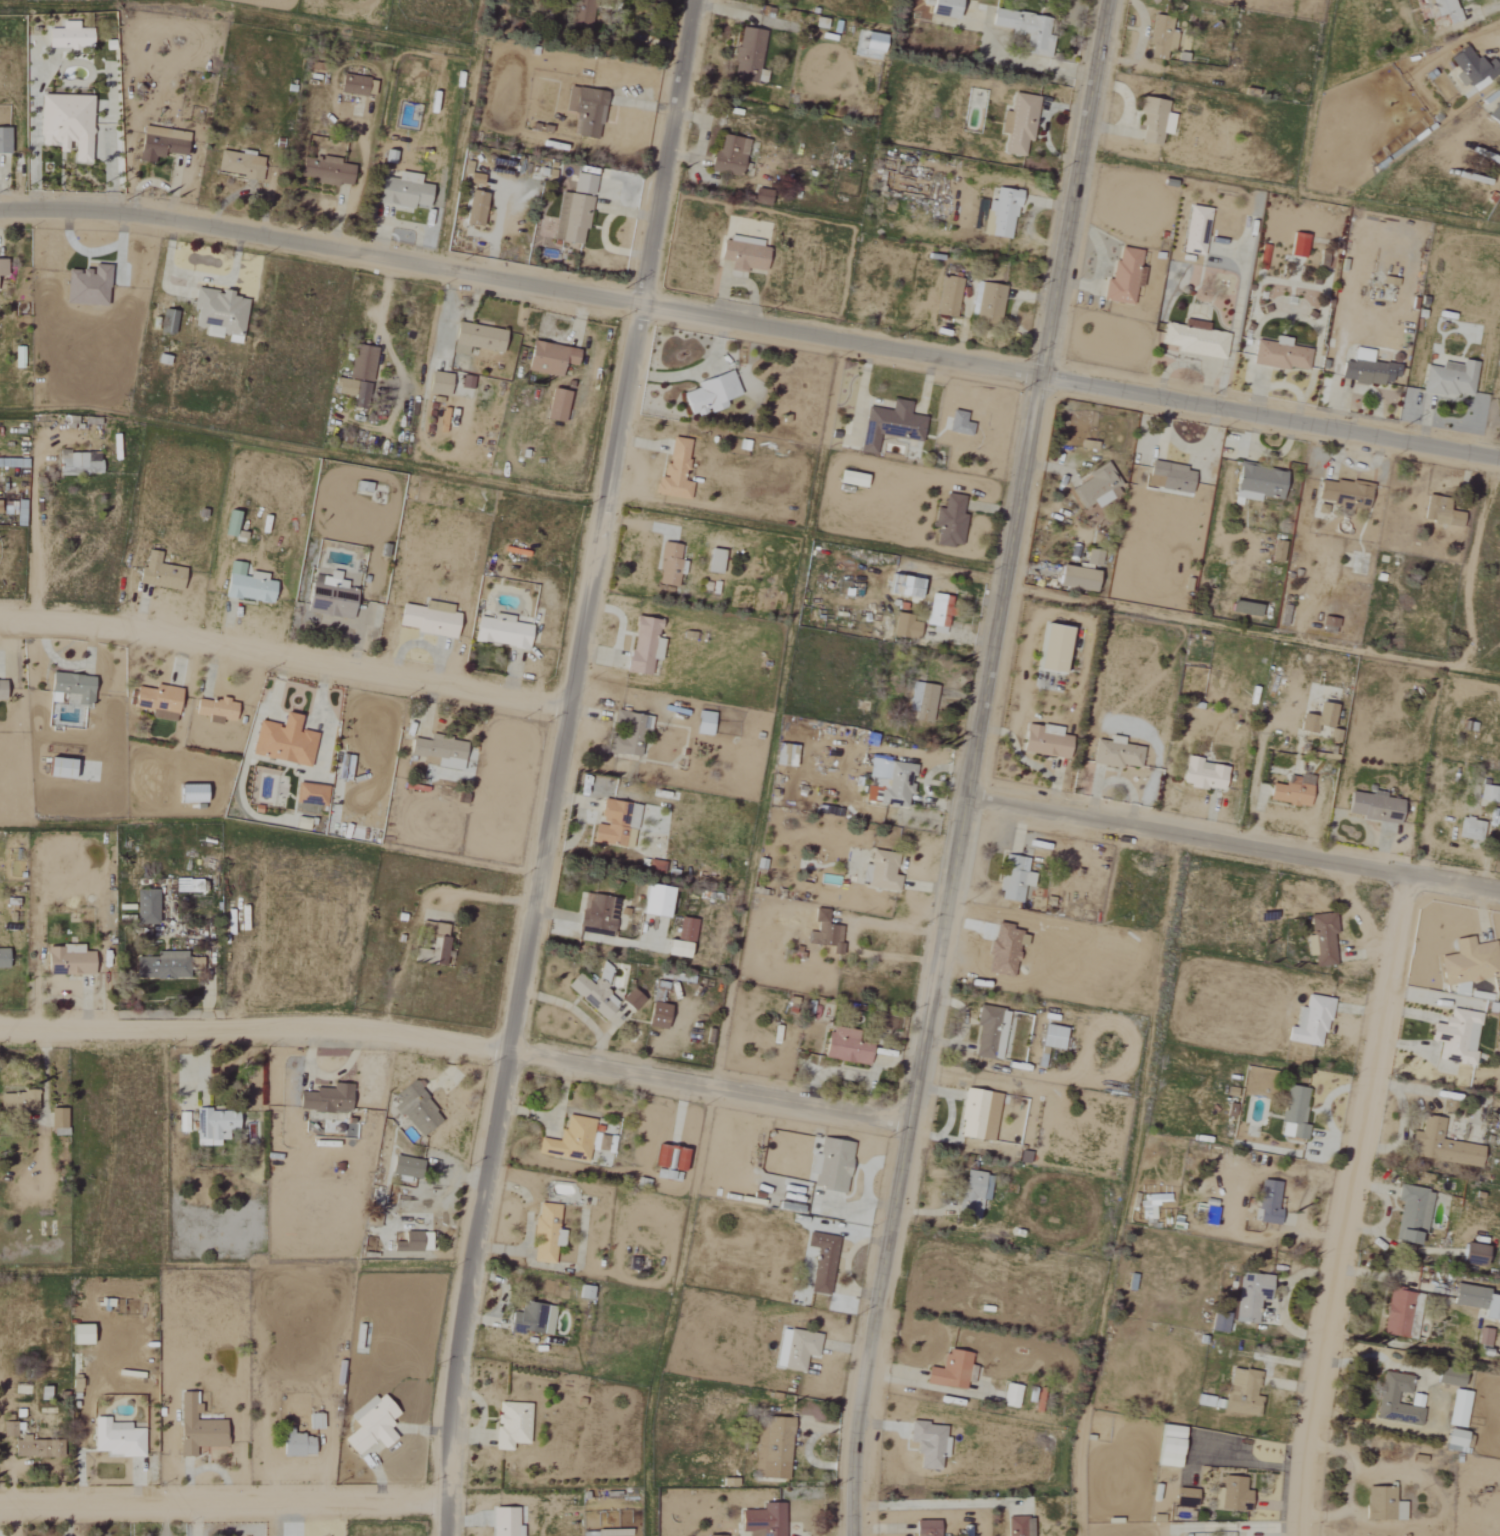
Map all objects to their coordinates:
building: (940, 8)
building: (1444, 10)
building: (1026, 28)
building: (72, 36)
building: (1159, 38)
building: (746, 54)
building: (1470, 68)
building: (354, 85)
building: (584, 111)
building: (1495, 114)
building: (1153, 121)
building: (1017, 123)
building: (69, 124)
building: (6, 141)
building: (165, 143)
building: (727, 156)
building: (242, 165)
building: (327, 170)
building: (474, 179)
building: (582, 184)
building: (400, 191)
building: (473, 208)
building: (1002, 214)
building: (570, 220)
building: (1194, 231)
building: (1296, 245)
building: (742, 253)
building: (1322, 260)
building: (4, 269)
building: (1123, 277)
road: (518, 281)
building: (91, 286)
building: (947, 297)
building: (988, 304)
building: (222, 314)
building: (173, 322)
building: (474, 338)
building: (1280, 355)
building: (19, 357)
building: (547, 357)
building: (361, 363)
building: (1367, 370)
building: (1449, 380)
building: (437, 383)
building: (352, 391)
building: (708, 393)
building: (555, 405)
road: (1268, 411)
building: (957, 423)
building: (888, 425)
road: (302, 448)
building: (82, 464)
building: (674, 469)
building: (1167, 476)
building: (850, 478)
building: (1256, 483)
building: (1095, 488)
building: (1342, 494)
road: (31, 508)
building: (1320, 509)
building: (1439, 511)
building: (948, 521)
building: (225, 528)
road: (647, 528)
building: (1092, 557)
building: (713, 560)
building: (667, 564)
building: (157, 572)
building: (1073, 577)
building: (246, 584)
building: (906, 586)
building: (328, 595)
building: (1243, 608)
building: (937, 610)
building: (427, 619)
building: (904, 626)
building: (499, 632)
road: (1251, 633)
building: (642, 645)
building: (1050, 648)
road: (283, 653)
building: (70, 688)
building: (1, 690)
building: (156, 701)
building: (926, 704)
building: (214, 710)
building: (1322, 720)
building: (702, 722)
building: (628, 734)
building: (281, 741)
building: (1043, 741)
building: (437, 751)
building: (1115, 753)
building: (783, 755)
road: (555, 765)
building: (56, 768)
road: (974, 768)
building: (1201, 774)
building: (892, 786)
building: (1289, 791)
building: (188, 793)
building: (308, 794)
building: (1488, 794)
building: (1371, 807)
building: (614, 824)
building: (1469, 829)
road: (1235, 840)
building: (654, 866)
building: (879, 871)
building: (1013, 879)
building: (652, 900)
building: (144, 906)
building: (597, 914)
building: (687, 930)
building: (824, 933)
road: (852, 937)
building: (1320, 939)
building: (436, 943)
building: (674, 948)
building: (3, 958)
building: (69, 959)
building: (1468, 962)
building: (165, 964)
building: (592, 992)
building: (630, 1000)
building: (656, 1015)
building: (1313, 1020)
building: (988, 1032)
building: (1455, 1036)
building: (1051, 1037)
road: (454, 1038)
building: (843, 1048)
building: (325, 1099)
building: (16, 1101)
building: (415, 1110)
building: (1293, 1113)
building: (977, 1115)
building: (181, 1122)
building: (215, 1124)
building: (572, 1140)
building: (1441, 1145)
building: (831, 1165)
building: (402, 1167)
building: (972, 1194)
building: (1267, 1202)
road: (1348, 1204)
building: (1148, 1207)
building: (1411, 1213)
building: (1207, 1216)
building: (545, 1234)
building: (412, 1242)
building: (1469, 1255)
building: (821, 1262)
building: (584, 1292)
building: (1250, 1296)
building: (1476, 1301)
building: (1399, 1315)
building: (530, 1319)
building: (1218, 1323)
building: (77, 1334)
building: (1485, 1338)
building: (794, 1349)
building: (950, 1371)
building: (1447, 1377)
building: (44, 1393)
building: (1242, 1393)
building: (1010, 1395)
building: (1386, 1400)
building: (1457, 1408)
building: (313, 1421)
building: (510, 1425)
building: (370, 1427)
building: (195, 1428)
building: (114, 1438)
building: (29, 1444)
building: (926, 1444)
building: (295, 1445)
building: (1167, 1446)
building: (775, 1448)
road: (225, 1493)
building: (1230, 1495)
building: (1184, 1497)
building: (1382, 1504)
road: (939, 1505)
building: (762, 1521)
building: (504, 1522)
building: (1018, 1526)
building: (925, 1528)
building: (713, 1535)

